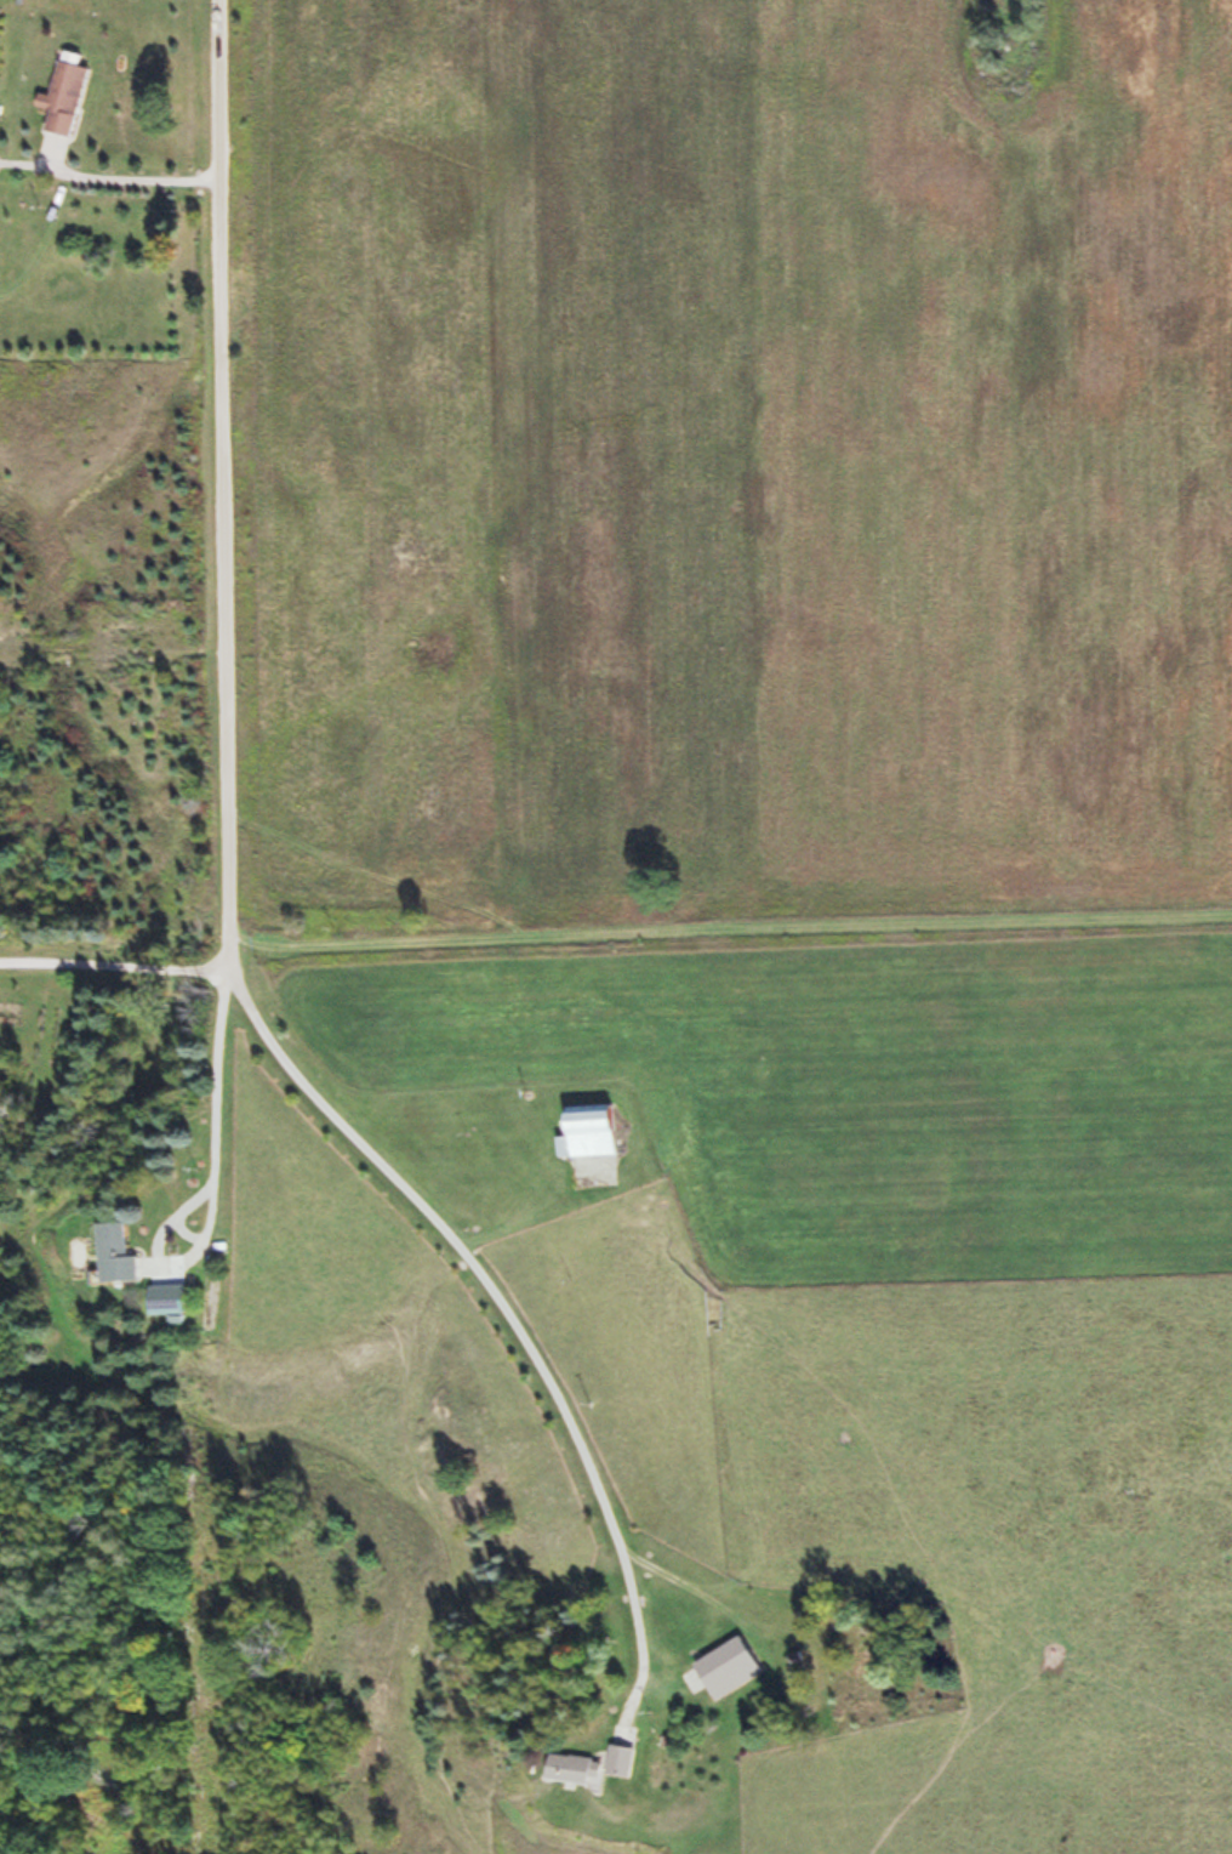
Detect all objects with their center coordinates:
building: (62, 95)
road: (187, 439)
building: (584, 1131)
road: (279, 1183)
road: (494, 1216)
building: (113, 1253)
building: (724, 1667)
building: (616, 1759)
building: (571, 1768)

